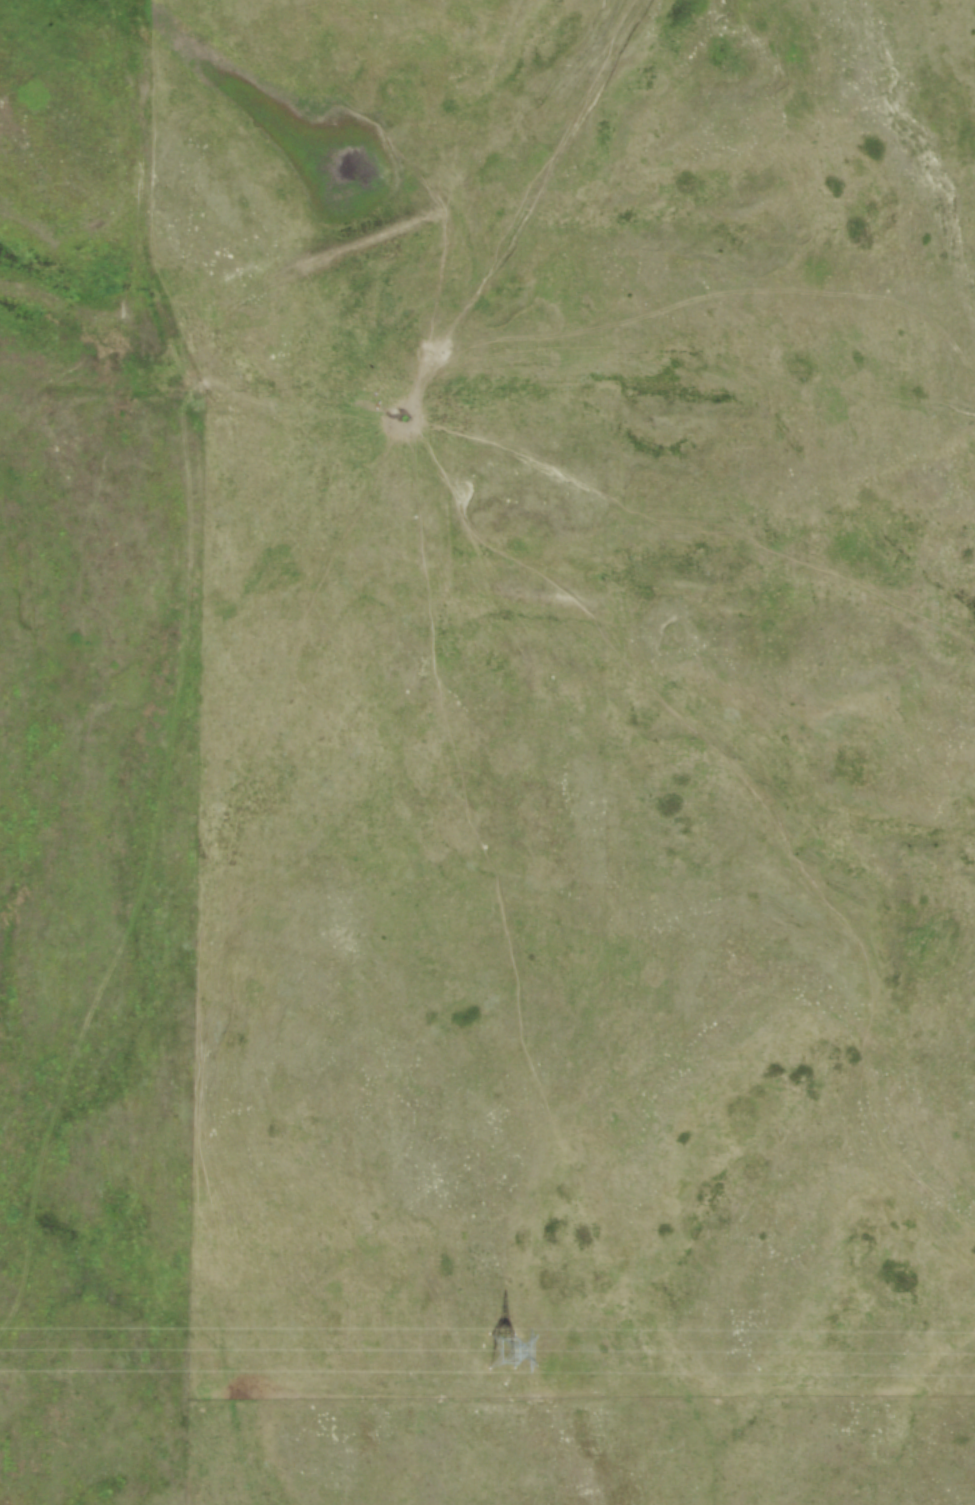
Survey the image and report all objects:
power tower: (498, 1352)

